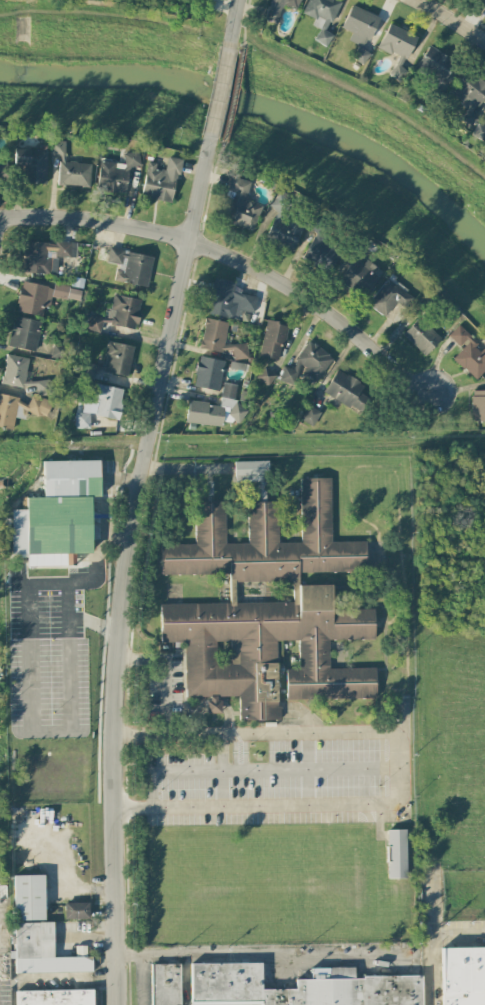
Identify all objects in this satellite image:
building: (204, 0)
building: (483, 1)
building: (277, 8)
road: (234, 15)
building: (321, 17)
road: (452, 19)
building: (359, 30)
building: (396, 47)
building: (434, 64)
road: (221, 83)
building: (469, 98)
river: (263, 102)
building: (479, 132)
building: (31, 165)
building: (69, 167)
building: (3, 171)
building: (115, 174)
building: (160, 181)
building: (282, 203)
building: (241, 205)
building: (283, 233)
building: (321, 255)
building: (45, 256)
road: (232, 258)
building: (130, 266)
building: (360, 276)
building: (42, 297)
building: (389, 297)
building: (229, 300)
building: (124, 311)
building: (95, 323)
building: (24, 333)
building: (421, 336)
building: (221, 340)
building: (272, 340)
building: (468, 353)
building: (117, 358)
building: (307, 364)
building: (14, 370)
building: (208, 373)
building: (265, 376)
building: (41, 388)
building: (346, 391)
building: (107, 401)
building: (231, 402)
building: (477, 405)
building: (21, 409)
building: (204, 413)
building: (309, 415)
building: (251, 471)
building: (57, 514)
road: (128, 567)
road: (75, 583)
building: (268, 609)
road: (167, 668)
building: (196, 703)
road: (299, 711)
road: (29, 713)
road: (307, 769)
road: (403, 769)
road: (221, 770)
road: (258, 770)
building: (396, 854)
road: (62, 873)
building: (28, 897)
building: (76, 911)
road: (7, 929)
road: (3, 933)
road: (433, 945)
building: (40, 950)
road: (255, 955)
building: (463, 976)
road: (141, 981)
road: (185, 981)
building: (165, 984)
building: (298, 987)
building: (54, 997)

